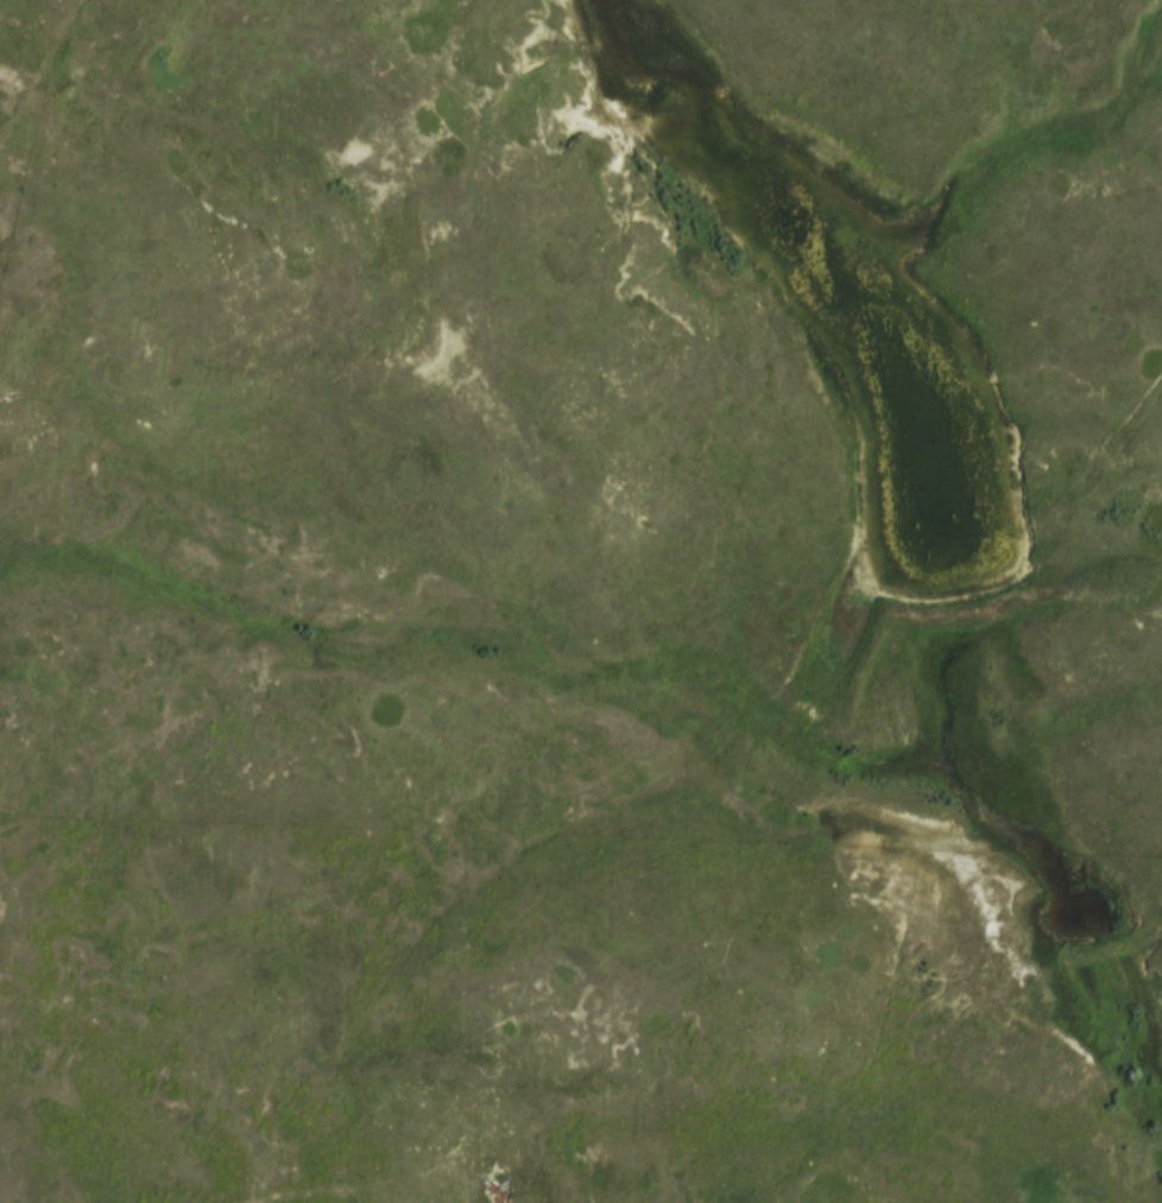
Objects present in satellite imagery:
road: (321, 1198)

